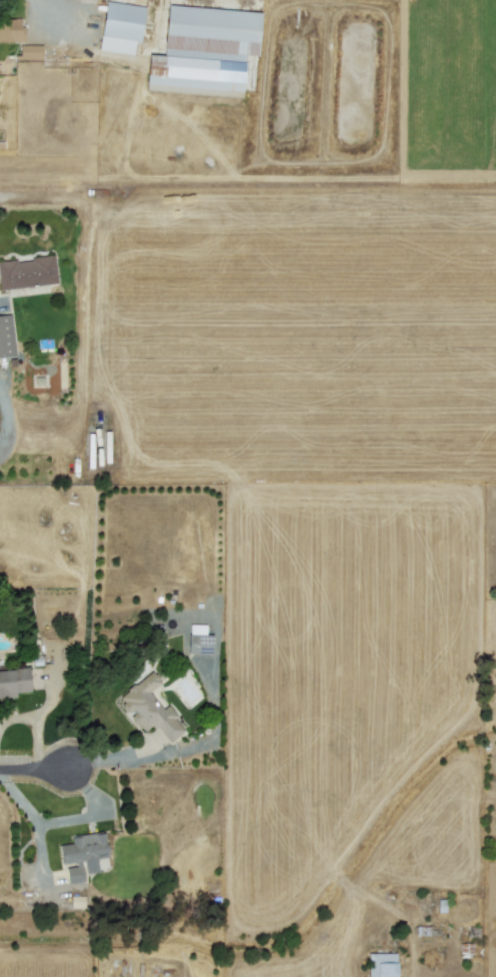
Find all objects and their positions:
road: (48, 11)
building: (120, 26)
building: (10, 29)
building: (204, 49)
building: (30, 51)
building: (27, 271)
building: (5, 335)
crop: (262, 383)
road: (6, 414)
building: (198, 639)
building: (13, 681)
building: (148, 707)
road: (31, 767)
road: (68, 818)
building: (82, 855)
building: (381, 964)

